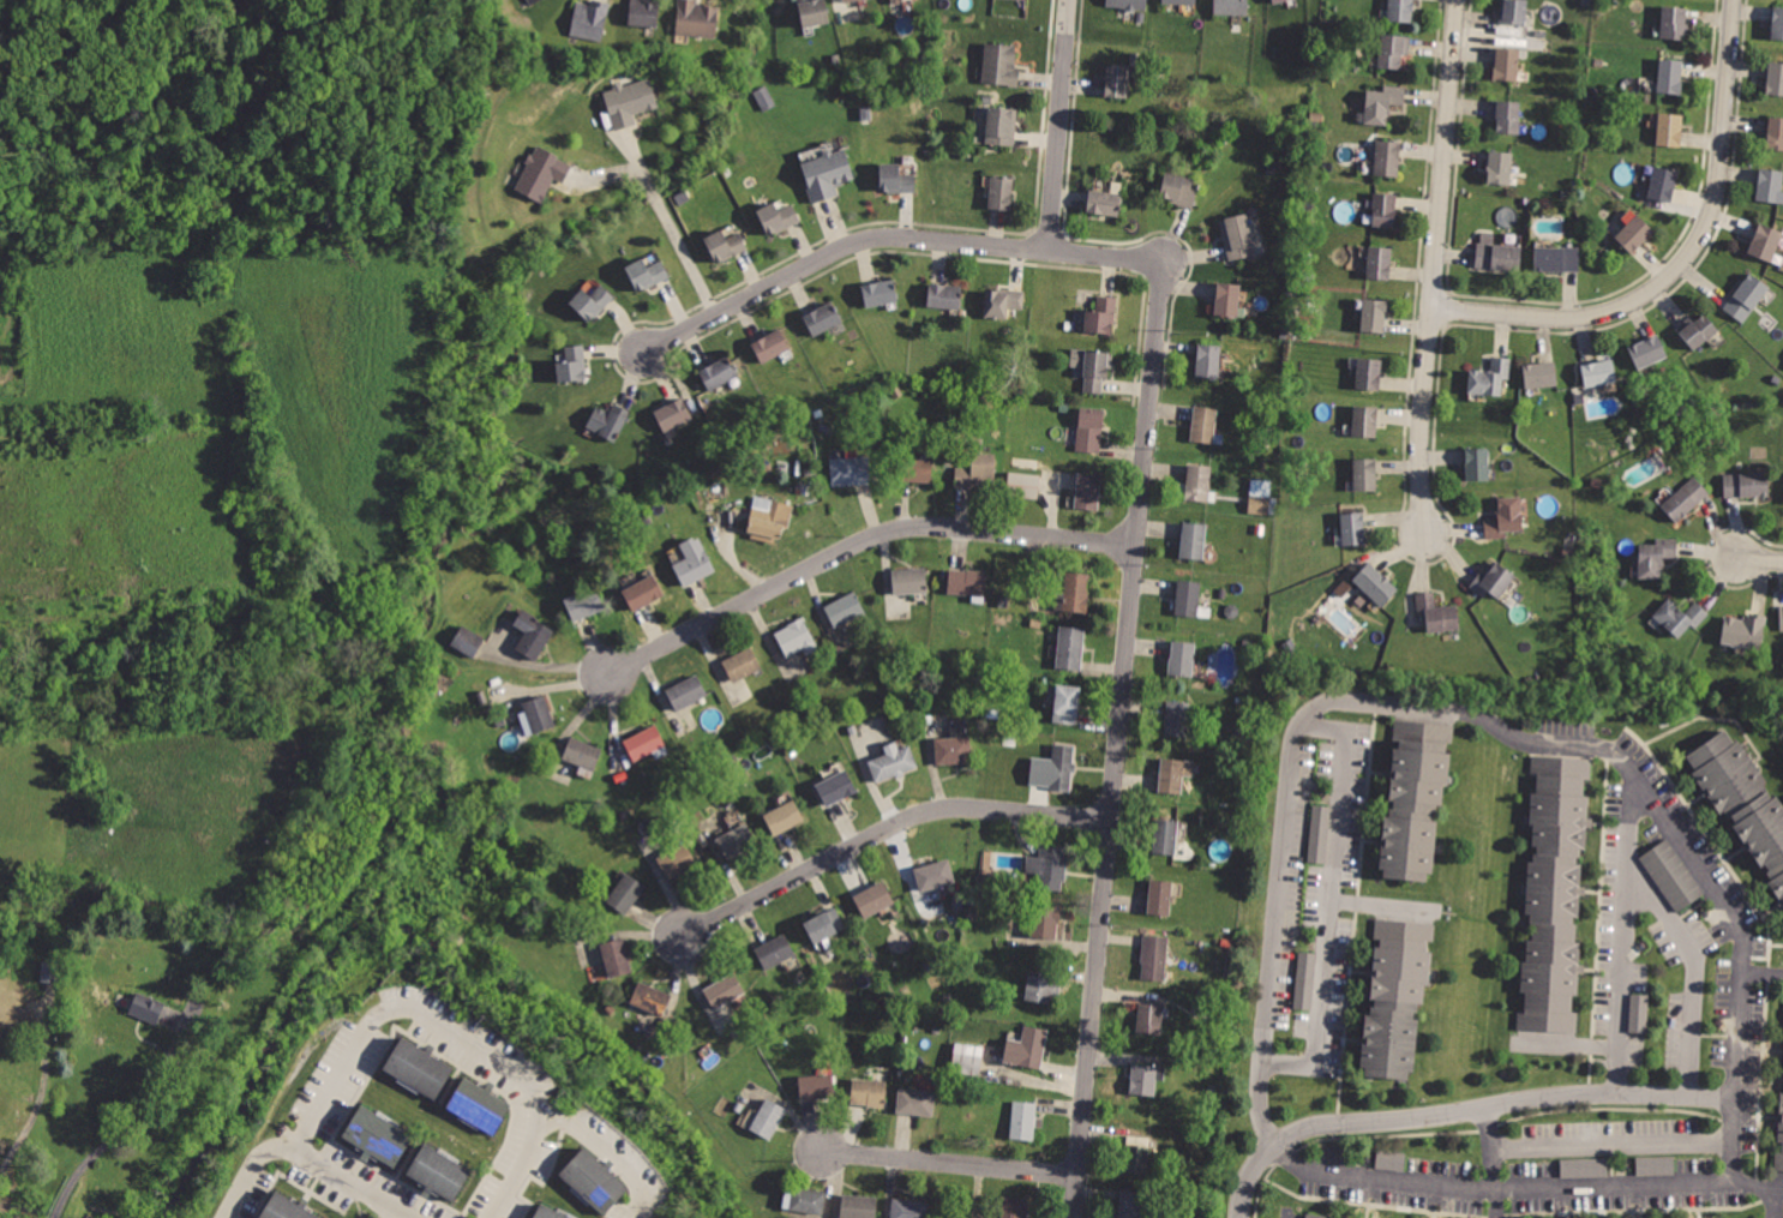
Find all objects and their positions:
building: (529, 0)
building: (845, 0)
building: (848, 0)
building: (890, 0)
building: (1016, 0)
building: (1278, 1)
building: (536, 2)
building: (1179, 2)
building: (1129, 5)
building: (1231, 7)
building: (1400, 11)
building: (1513, 12)
building: (812, 13)
building: (642, 14)
building: (592, 20)
building: (696, 20)
building: (1674, 24)
building: (1777, 24)
building: (1393, 49)
building: (1506, 65)
building: (999, 67)
building: (1670, 78)
building: (1775, 80)
building: (1118, 82)
building: (629, 101)
building: (1383, 104)
building: (1507, 115)
road: (1057, 125)
building: (1001, 127)
building: (1669, 130)
building: (1773, 133)
building: (1387, 156)
building: (1499, 168)
building: (827, 172)
building: (544, 174)
building: (895, 178)
building: (1662, 184)
building: (1770, 185)
building: (1182, 190)
building: (1001, 191)
building: (1105, 200)
building: (1385, 209)
building: (778, 216)
building: (1634, 232)
road: (673, 234)
building: (1237, 236)
road: (891, 238)
building: (1764, 240)
building: (726, 244)
building: (1497, 256)
building: (1557, 257)
road: (1685, 259)
building: (1380, 260)
road: (1436, 263)
building: (648, 272)
building: (880, 292)
building: (943, 293)
building: (1745, 296)
building: (1229, 300)
building: (592, 301)
building: (1002, 301)
building: (1103, 313)
building: (1373, 314)
building: (824, 316)
building: (1699, 330)
building: (770, 343)
building: (1649, 349)
building: (1208, 359)
building: (572, 362)
building: (1094, 366)
building: (1598, 370)
building: (720, 371)
building: (1541, 372)
building: (1369, 373)
building: (1490, 374)
building: (673, 413)
building: (1364, 420)
building: (607, 421)
building: (1203, 422)
building: (1091, 428)
building: (1477, 463)
building: (851, 469)
building: (917, 469)
building: (977, 472)
building: (1365, 473)
building: (1199, 480)
building: (1747, 484)
building: (1027, 485)
building: (1088, 490)
building: (1259, 496)
building: (1687, 499)
building: (769, 517)
building: (1503, 518)
park: (53, 528)
building: (1353, 528)
building: (1194, 540)
road: (856, 545)
building: (1656, 554)
road: (1759, 558)
building: (692, 562)
building: (911, 580)
building: (1493, 580)
building: (968, 581)
building: (1376, 584)
building: (641, 590)
building: (1076, 592)
building: (1188, 595)
building: (583, 602)
building: (846, 606)
building: (1436, 612)
building: (1681, 616)
building: (1782, 616)
building: (1745, 629)
building: (532, 632)
building: (796, 637)
building: (466, 642)
building: (1070, 648)
building: (1182, 658)
building: (740, 662)
road: (541, 668)
building: (174, 671)
building: (686, 690)
building: (1064, 703)
building: (539, 714)
building: (1177, 718)
road: (1113, 740)
building: (643, 742)
building: (953, 749)
building: (582, 754)
building: (891, 762)
building: (1059, 769)
building: (1175, 774)
building: (835, 786)
building: (1743, 799)
building: (1412, 804)
building: (786, 816)
road: (884, 832)
building: (1319, 834)
building: (1166, 836)
building: (737, 841)
building: (677, 860)
building: (1049, 866)
building: (935, 872)
building: (1677, 880)
building: (624, 893)
building: (1553, 894)
building: (1160, 895)
building: (874, 898)
road: (1334, 906)
building: (826, 922)
building: (1046, 922)
road: (1356, 922)
road: (1275, 928)
road: (1623, 936)
building: (776, 950)
building: (617, 955)
building: (1155, 958)
road: (1692, 974)
building: (1304, 988)
building: (1041, 989)
building: (724, 990)
road: (37, 996)
building: (1392, 997)
building: (650, 998)
building: (146, 1008)
building: (1646, 1012)
building: (1149, 1019)
road: (19, 1021)
road: (1741, 1025)
building: (29, 1027)
road: (450, 1034)
building: (1028, 1048)
building: (968, 1064)
building: (418, 1067)
road: (38, 1075)
building: (1145, 1081)
building: (817, 1086)
building: (868, 1091)
building: (914, 1102)
building: (476, 1105)
road: (1464, 1110)
building: (768, 1120)
building: (1025, 1121)
road: (1477, 1130)
building: (376, 1135)
road: (610, 1148)
building: (1137, 1154)
building: (1781, 1157)
road: (312, 1158)
building: (1391, 1160)
building: (1656, 1163)
road: (945, 1164)
building: (1585, 1166)
building: (439, 1171)
building: (589, 1180)
building: (808, 1199)
building: (1133, 1204)
building: (859, 1205)
building: (1013, 1206)
building: (286, 1207)
building: (911, 1207)
building: (548, 1213)
building: (1320, 1216)
road: (1521, 1217)

